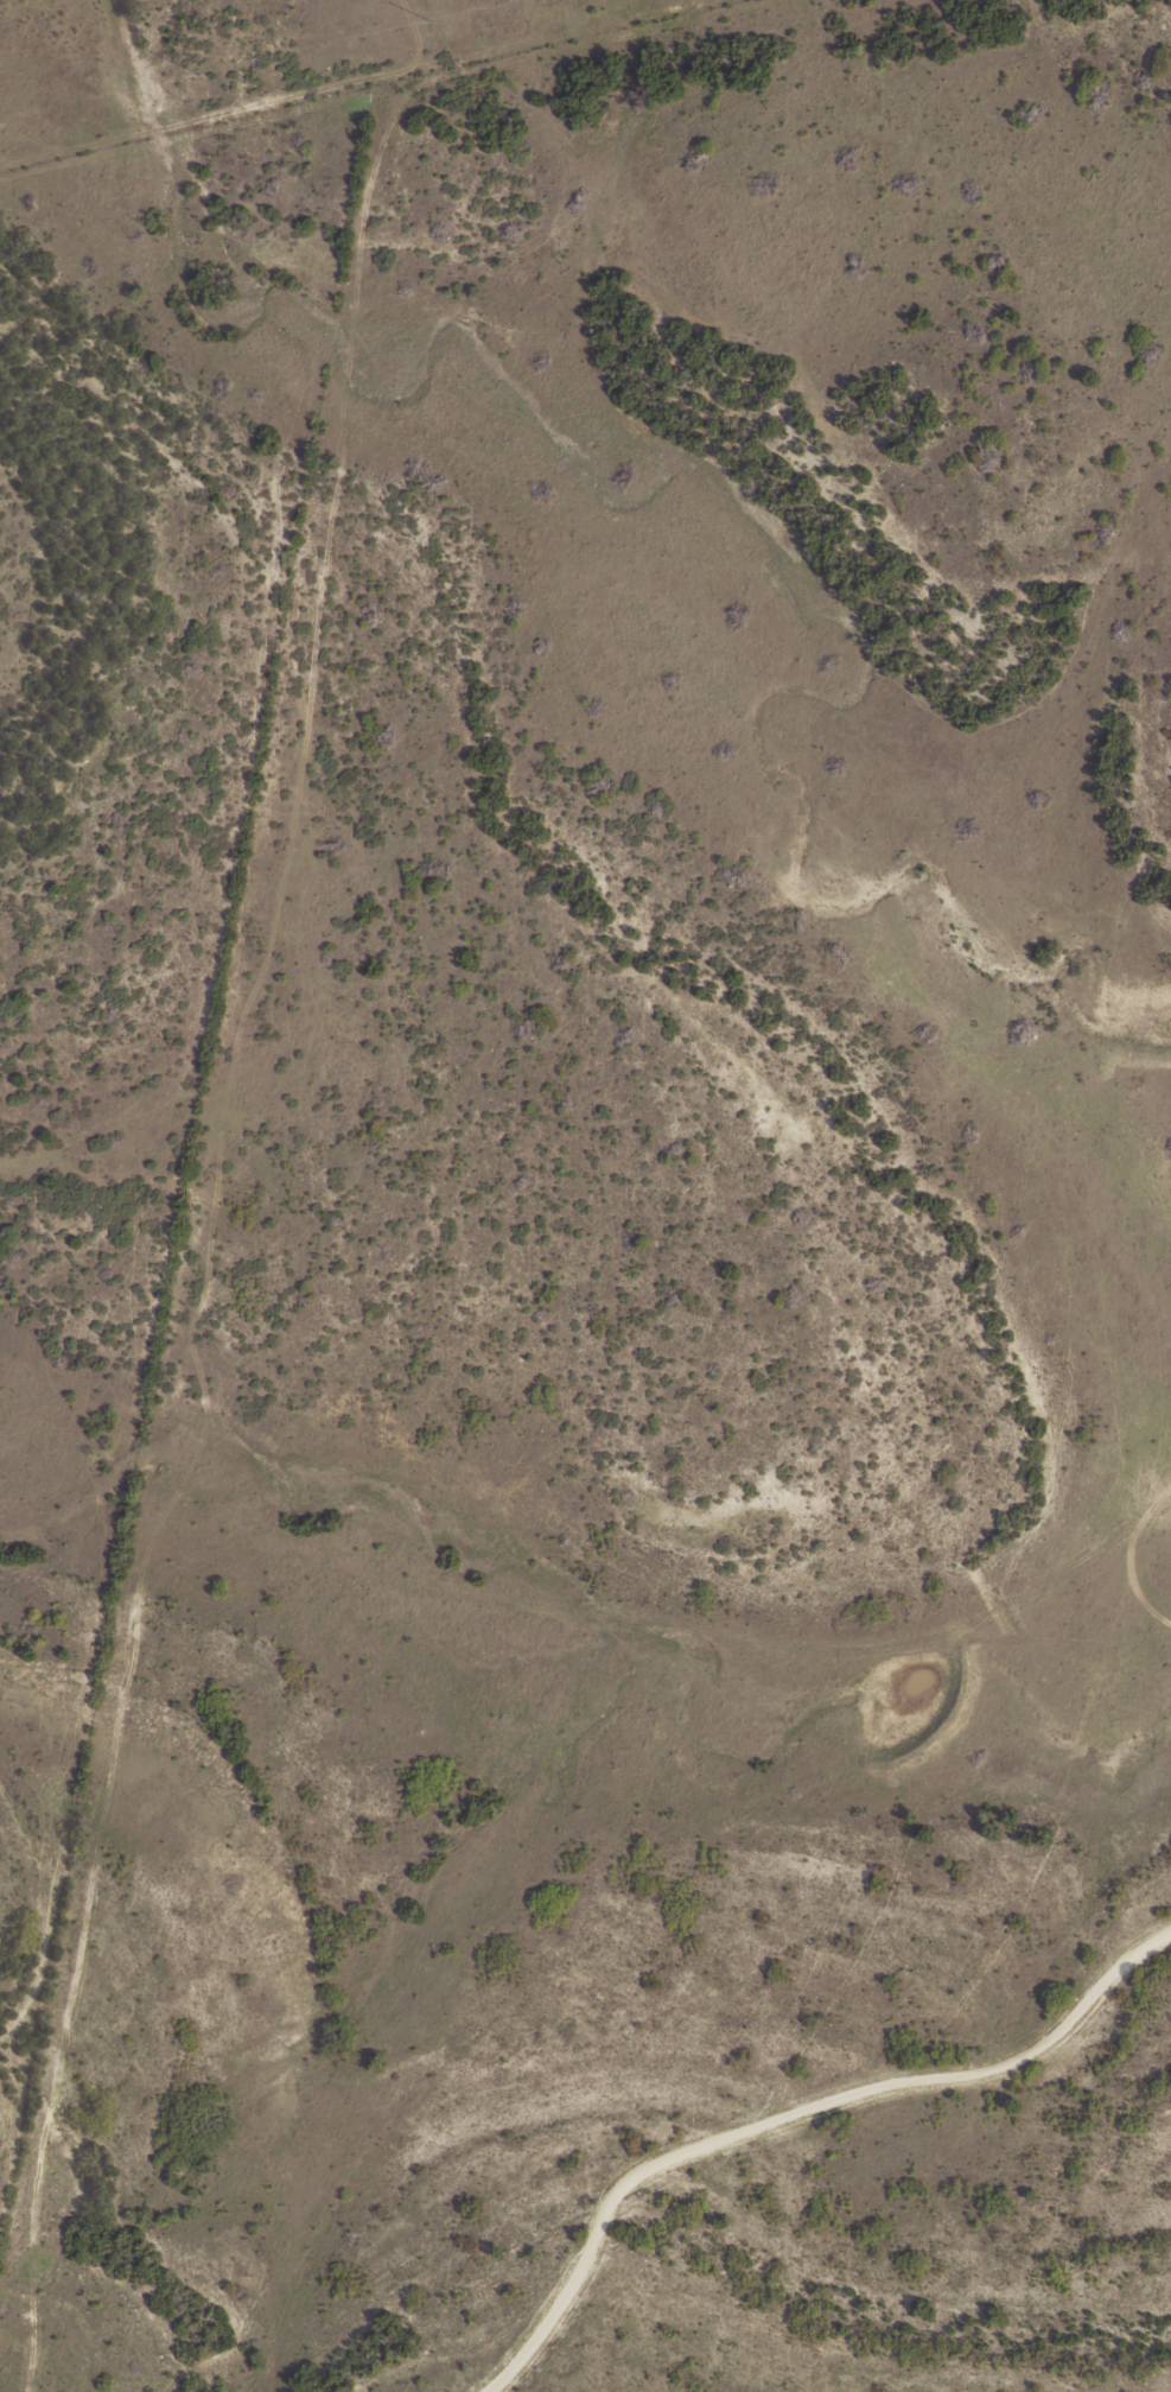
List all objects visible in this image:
road: (789, 2111)

